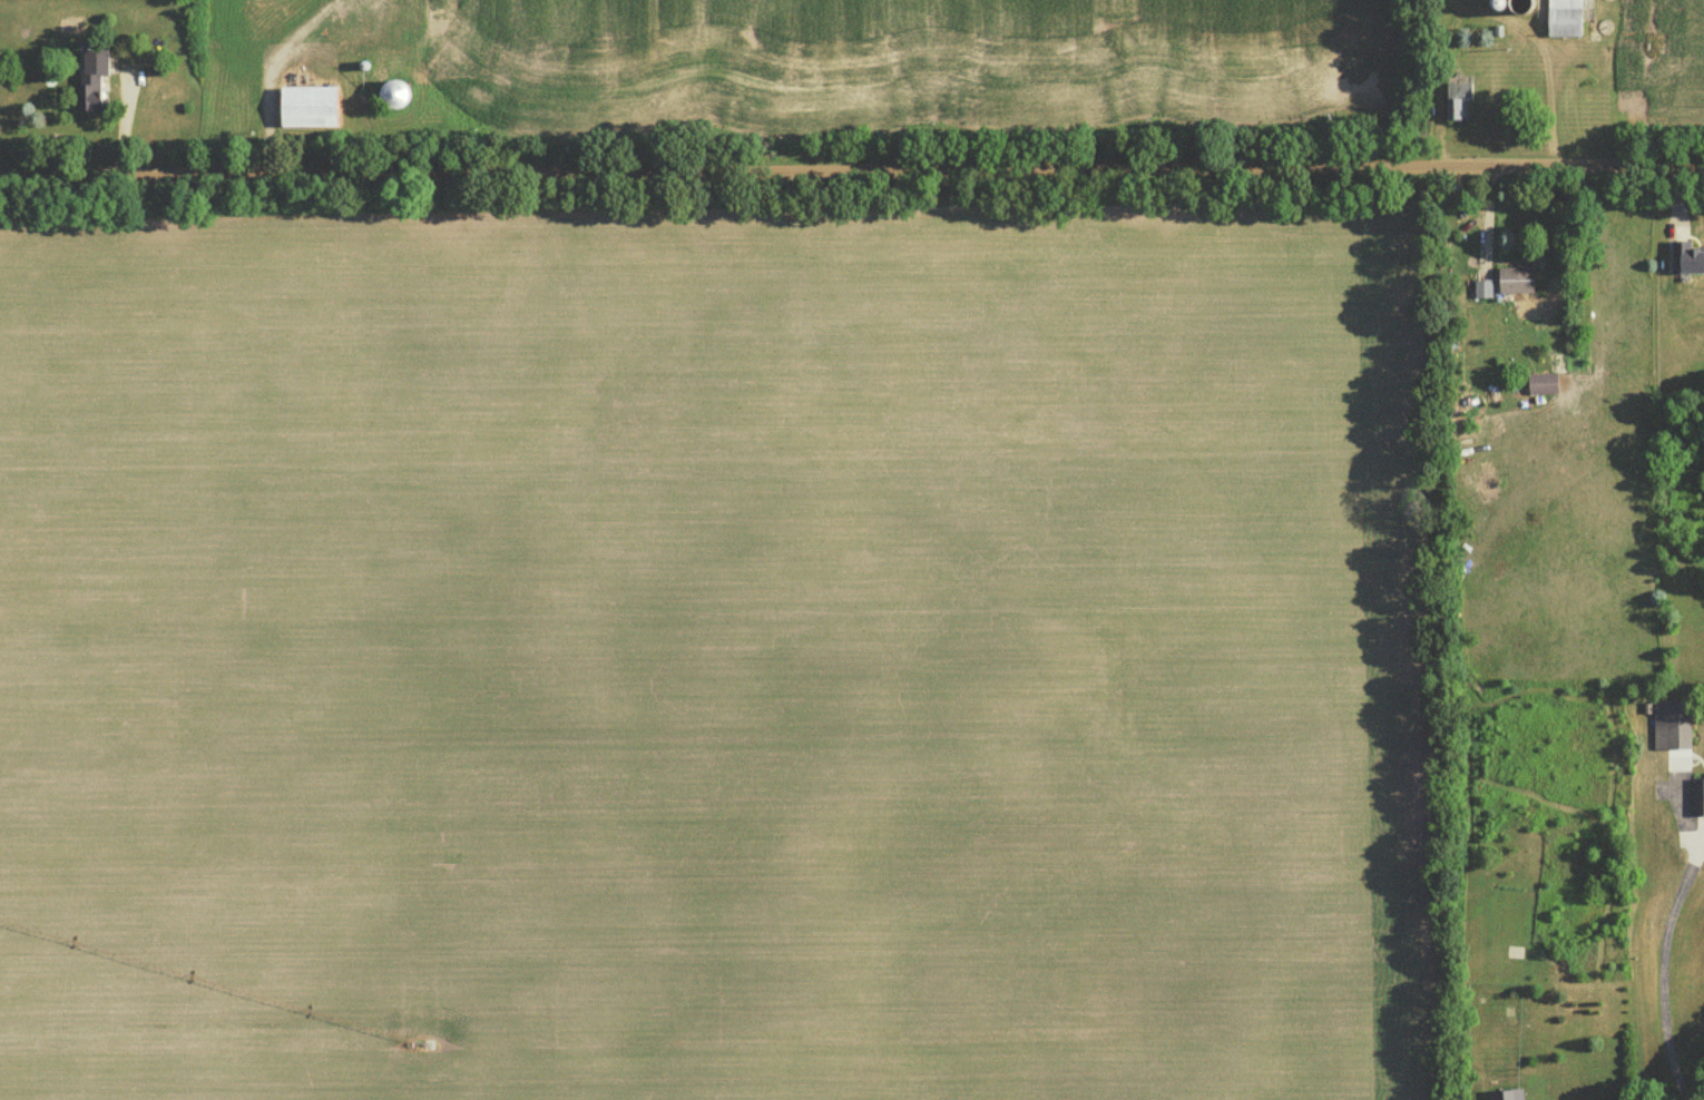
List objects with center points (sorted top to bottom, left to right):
building: (1564, 20)
building: (91, 84)
building: (392, 97)
building: (1457, 101)
building: (306, 110)
road: (852, 170)
building: (1688, 263)
building: (1515, 284)
building: (1481, 293)
building: (1540, 389)
building: (1671, 730)
building: (1698, 802)
road: (1658, 965)
building: (1506, 1097)

